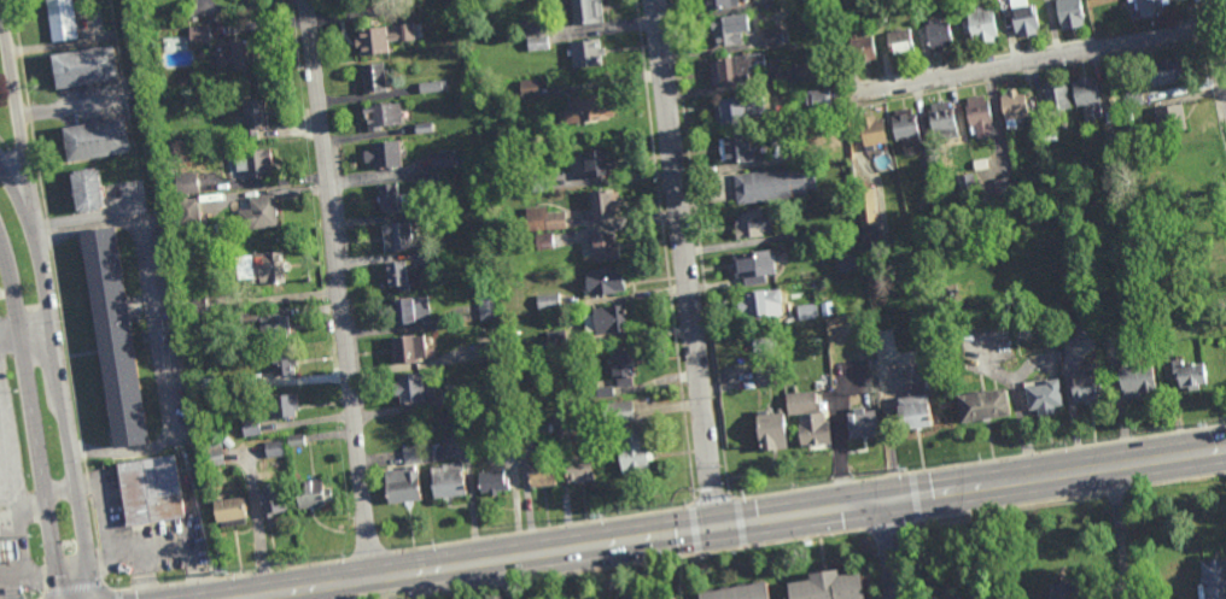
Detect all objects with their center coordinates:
building: (718, 4)
building: (851, 4)
building: (1146, 7)
building: (917, 11)
building: (580, 12)
building: (1069, 13)
building: (848, 16)
building: (1023, 17)
building: (62, 19)
building: (877, 19)
building: (981, 25)
building: (535, 28)
building: (726, 31)
building: (938, 33)
building: (775, 36)
building: (383, 37)
road: (1216, 40)
building: (899, 41)
building: (538, 42)
building: (863, 46)
building: (226, 48)
building: (586, 53)
road: (1035, 59)
building: (87, 67)
building: (734, 69)
building: (811, 71)
building: (834, 72)
building: (1162, 72)
building: (373, 77)
building: (432, 86)
building: (530, 88)
building: (1086, 96)
building: (1132, 98)
building: (819, 99)
building: (1056, 99)
building: (1014, 106)
building: (840, 107)
building: (586, 108)
building: (736, 110)
building: (381, 114)
building: (977, 116)
building: (247, 117)
building: (1169, 118)
building: (942, 119)
building: (1127, 119)
building: (1064, 125)
road: (13, 127)
building: (424, 127)
building: (907, 130)
building: (1037, 133)
building: (872, 134)
building: (778, 135)
building: (1110, 135)
building: (94, 140)
building: (1037, 145)
building: (736, 148)
building: (384, 154)
building: (443, 159)
building: (255, 162)
building: (596, 163)
building: (968, 165)
building: (928, 168)
building: (427, 178)
building: (1032, 182)
building: (186, 183)
building: (538, 183)
building: (772, 184)
building: (967, 187)
building: (1004, 187)
building: (84, 192)
building: (392, 199)
building: (602, 205)
building: (865, 206)
building: (187, 211)
building: (258, 213)
building: (439, 218)
building: (543, 219)
building: (748, 225)
road: (86, 228)
building: (813, 233)
building: (397, 236)
building: (542, 241)
building: (852, 242)
building: (602, 247)
building: (848, 262)
road: (683, 264)
building: (753, 265)
building: (259, 268)
building: (404, 275)
building: (481, 276)
building: (603, 282)
road: (339, 290)
building: (548, 301)
building: (758, 303)
building: (193, 304)
building: (486, 306)
building: (405, 310)
building: (805, 311)
building: (824, 312)
building: (247, 317)
building: (603, 319)
building: (273, 330)
road: (153, 331)
road: (7, 337)
building: (556, 339)
building: (1097, 339)
building: (115, 340)
building: (761, 343)
building: (409, 350)
building: (489, 351)
building: (767, 354)
building: (280, 363)
building: (621, 366)
building: (766, 374)
building: (1187, 375)
road: (56, 377)
building: (1135, 380)
building: (250, 383)
building: (203, 384)
building: (816, 386)
building: (414, 388)
building: (494, 388)
building: (1086, 388)
building: (603, 390)
building: (912, 392)
building: (1043, 399)
building: (800, 403)
building: (282, 405)
building: (982, 409)
building: (618, 411)
building: (430, 416)
building: (561, 423)
power tower: (1208, 423)
road: (30, 424)
building: (862, 424)
building: (250, 428)
building: (520, 429)
building: (771, 430)
building: (507, 431)
building: (813, 431)
power tower: (1133, 435)
building: (294, 440)
power tower: (1069, 445)
building: (272, 448)
road: (119, 452)
building: (432, 452)
building: (210, 454)
building: (411, 454)
building: (634, 454)
power tower: (982, 459)
building: (578, 468)
building: (541, 471)
power tower: (901, 472)
building: (446, 478)
building: (492, 481)
building: (401, 485)
power tower: (806, 486)
building: (148, 489)
building: (310, 494)
power tower: (743, 497)
road: (21, 503)
building: (273, 503)
traffic signals: (888, 503)
power tower: (687, 505)
building: (229, 509)
road: (800, 516)
power tower: (608, 517)
traffic signals: (714, 529)
power tower: (524, 532)
power tower: (437, 544)
road: (982, 544)
building: (8, 548)
road: (891, 551)
power tower: (340, 554)
power tower: (215, 570)
building: (1212, 580)
road: (442, 585)
building: (824, 587)
road: (314, 589)
building: (1063, 592)
building: (736, 593)
road: (281, 597)
building: (621, 598)
building: (626, 598)
building: (948, 598)

